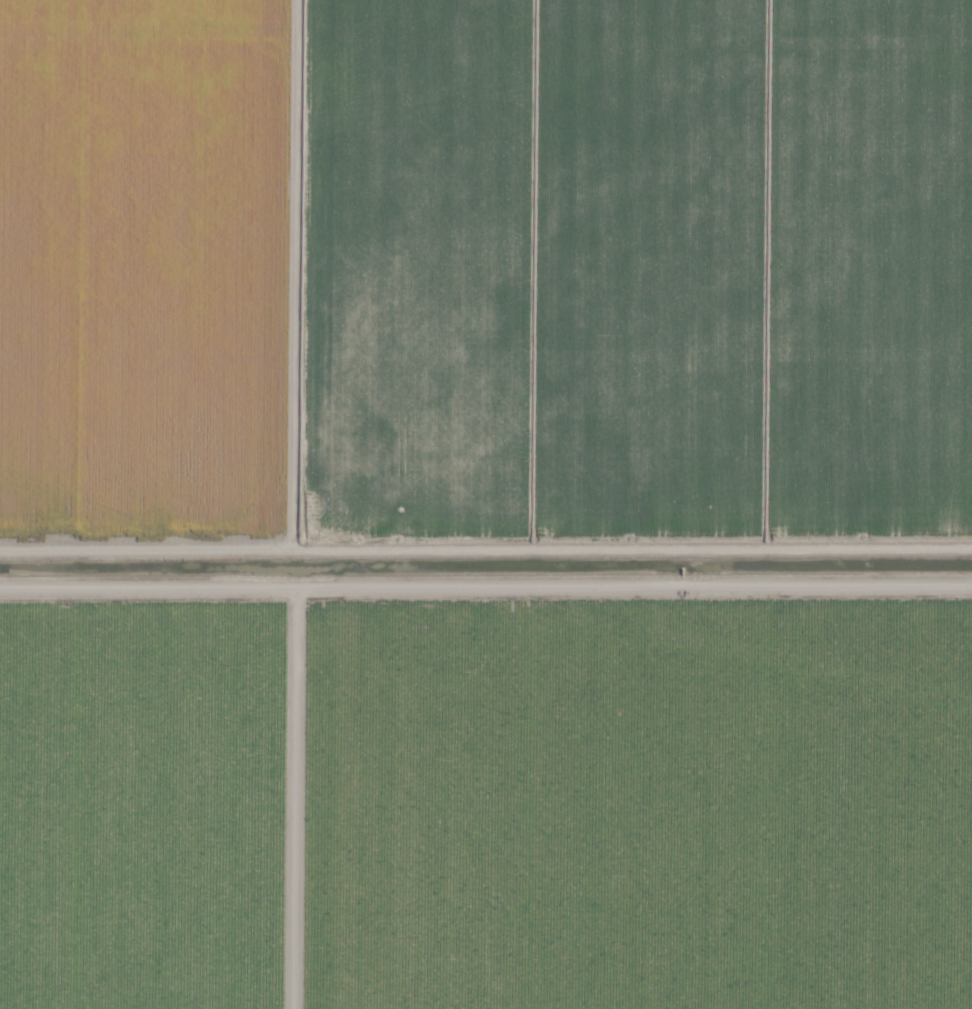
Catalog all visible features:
road: (485, 583)

